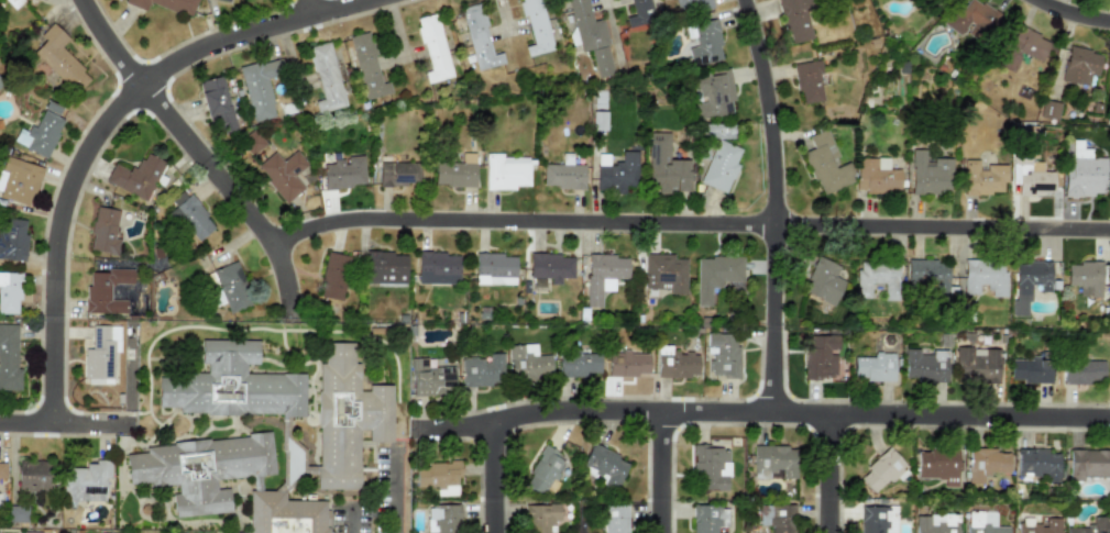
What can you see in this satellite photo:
building: (230, 1)
building: (14, 2)
building: (165, 4)
building: (691, 5)
road: (320, 10)
building: (640, 12)
building: (969, 15)
building: (795, 20)
road: (1065, 20)
building: (535, 26)
building: (590, 35)
building: (479, 38)
building: (703, 42)
building: (432, 47)
building: (1023, 47)
building: (56, 60)
building: (366, 66)
building: (1078, 66)
building: (325, 78)
building: (809, 81)
building: (259, 87)
building: (713, 92)
building: (217, 106)
building: (1048, 110)
road: (114, 125)
building: (716, 131)
building: (40, 133)
building: (250, 142)
road: (206, 158)
building: (825, 164)
building: (664, 166)
building: (719, 166)
building: (505, 171)
building: (616, 171)
building: (343, 173)
building: (398, 173)
building: (454, 173)
building: (1082, 173)
building: (282, 174)
building: (562, 174)
building: (928, 174)
building: (134, 176)
building: (876, 176)
building: (982, 177)
building: (1031, 178)
building: (18, 179)
road: (776, 209)
building: (190, 216)
road: (691, 226)
building: (103, 231)
building: (12, 238)
building: (437, 264)
building: (550, 266)
building: (384, 267)
building: (494, 268)
building: (663, 273)
building: (603, 275)
building: (716, 275)
building: (927, 275)
building: (332, 276)
building: (982, 276)
building: (876, 277)
building: (1084, 278)
building: (823, 281)
building: (1027, 284)
building: (231, 286)
building: (106, 290)
building: (9, 292)
building: (100, 352)
building: (820, 356)
building: (8, 357)
building: (527, 363)
building: (675, 363)
building: (578, 364)
building: (627, 364)
building: (923, 365)
building: (976, 365)
building: (873, 367)
building: (1029, 369)
building: (481, 370)
building: (1081, 370)
building: (430, 378)
building: (231, 384)
building: (345, 418)
road: (762, 422)
road: (65, 427)
building: (772, 462)
building: (985, 463)
building: (1037, 463)
building: (1088, 464)
building: (603, 465)
building: (937, 465)
building: (710, 467)
building: (201, 469)
building: (542, 469)
building: (2, 470)
building: (880, 470)
building: (33, 475)
building: (439, 477)
road: (668, 477)
road: (836, 478)
road: (501, 480)
building: (85, 481)
road: (395, 489)
building: (283, 514)
building: (540, 517)
building: (776, 517)
building: (442, 519)
building: (614, 519)
building: (710, 519)
building: (876, 519)
road: (350, 521)
building: (935, 523)
building: (982, 523)
building: (1037, 524)
building: (1090, 526)

